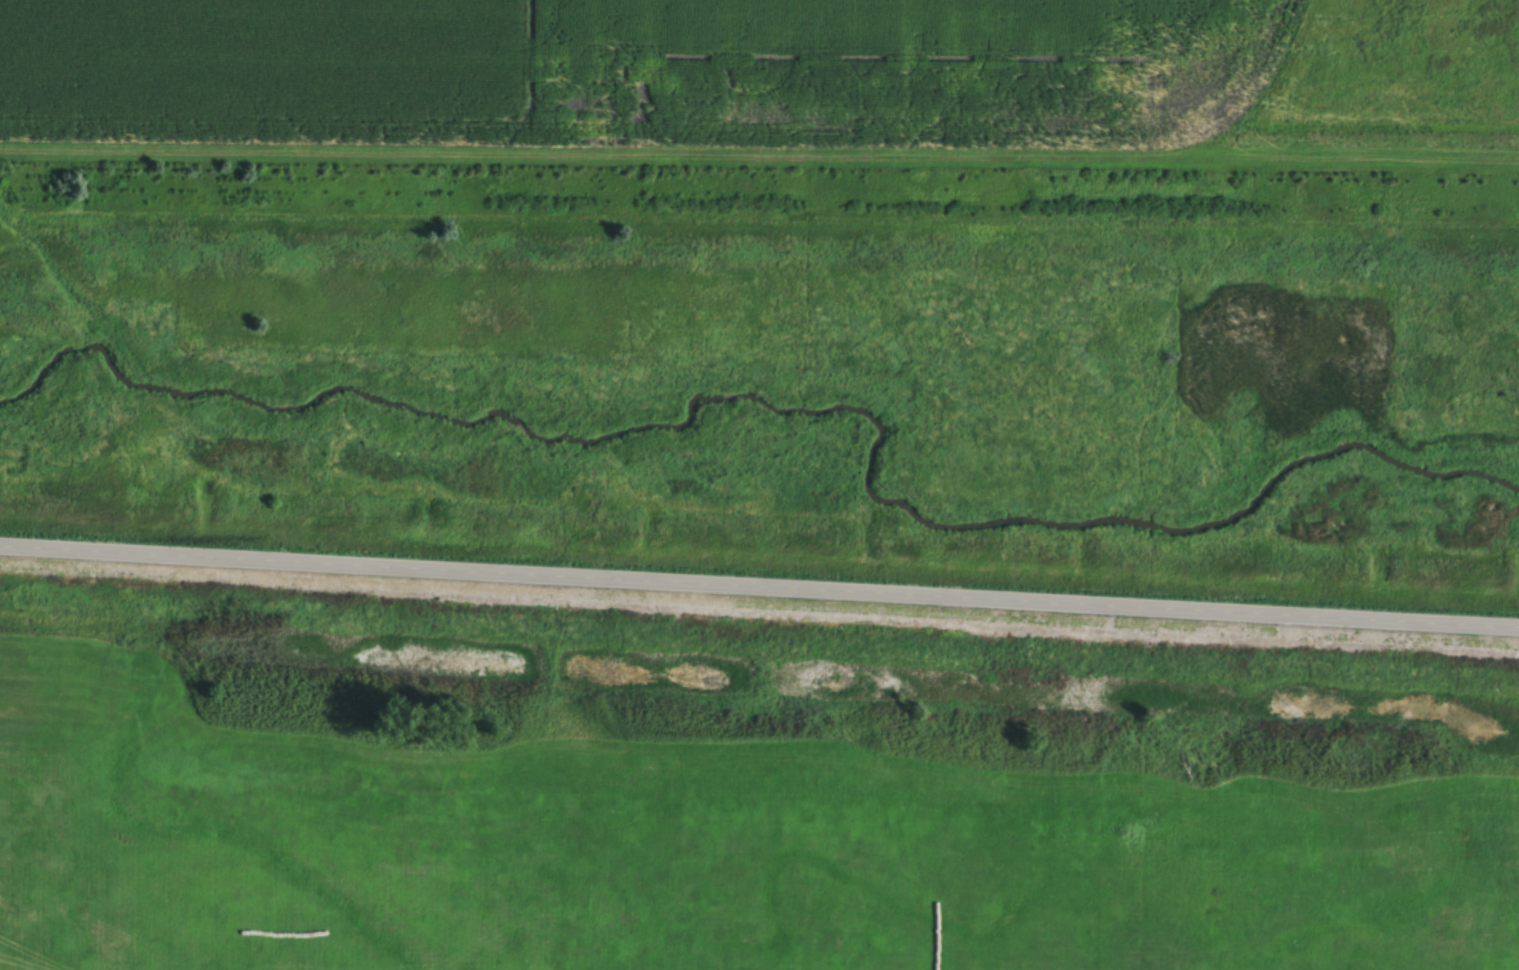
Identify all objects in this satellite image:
road: (759, 587)

